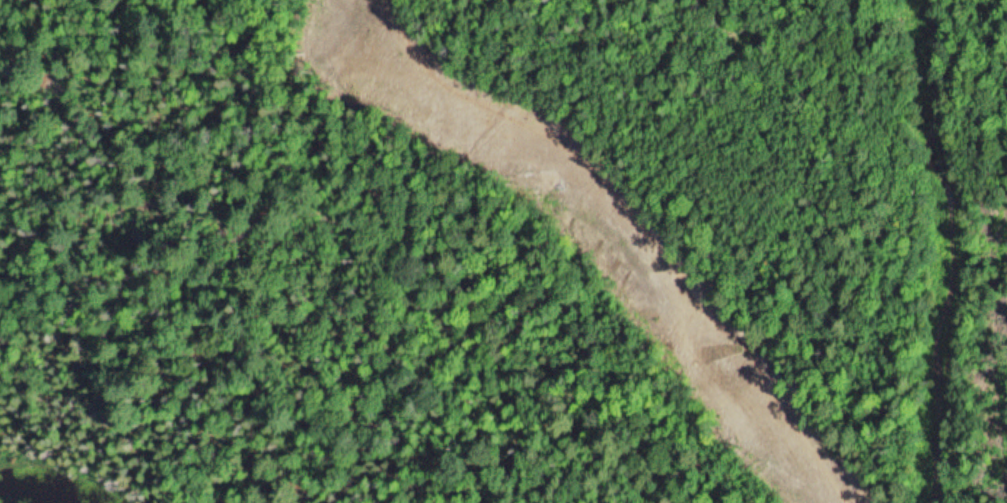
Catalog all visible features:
road: (940, 251)

